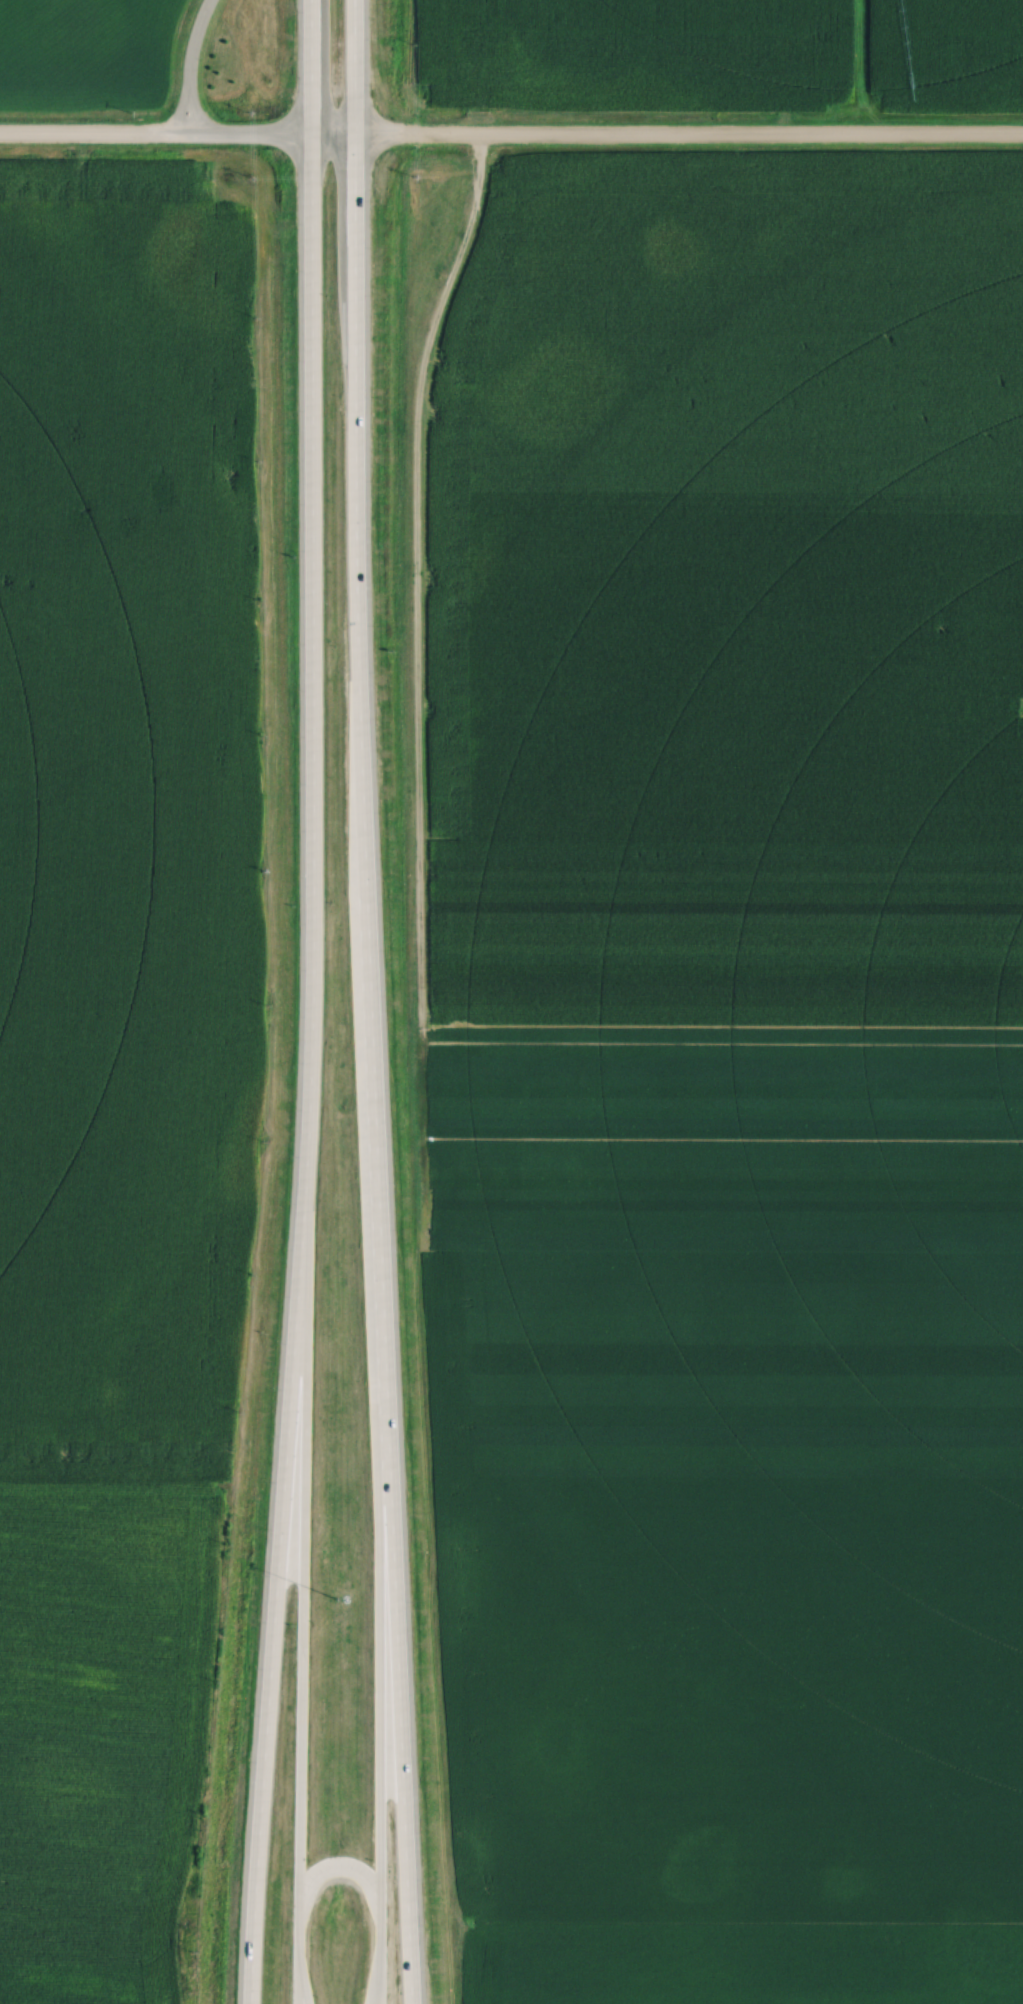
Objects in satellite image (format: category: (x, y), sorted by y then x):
road: (190, 67)
road: (96, 138)
road: (273, 138)
road: (688, 139)
road: (364, 1002)
road: (312, 1003)
road: (298, 1604)
road: (386, 1729)
road: (340, 1865)

